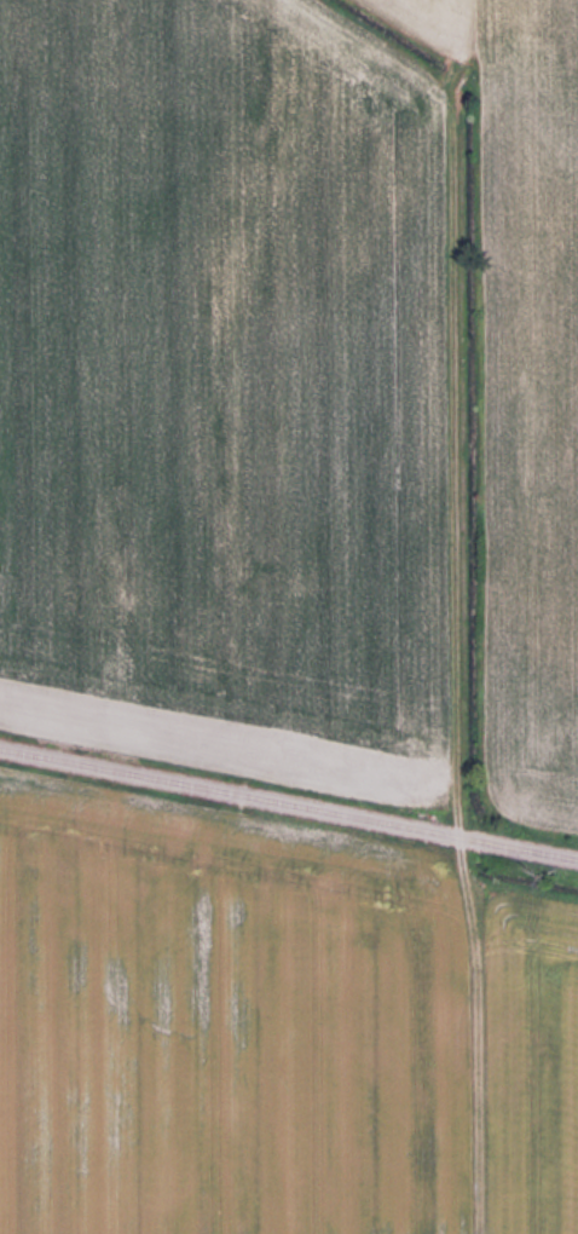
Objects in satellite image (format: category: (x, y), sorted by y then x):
railway: (289, 805)

